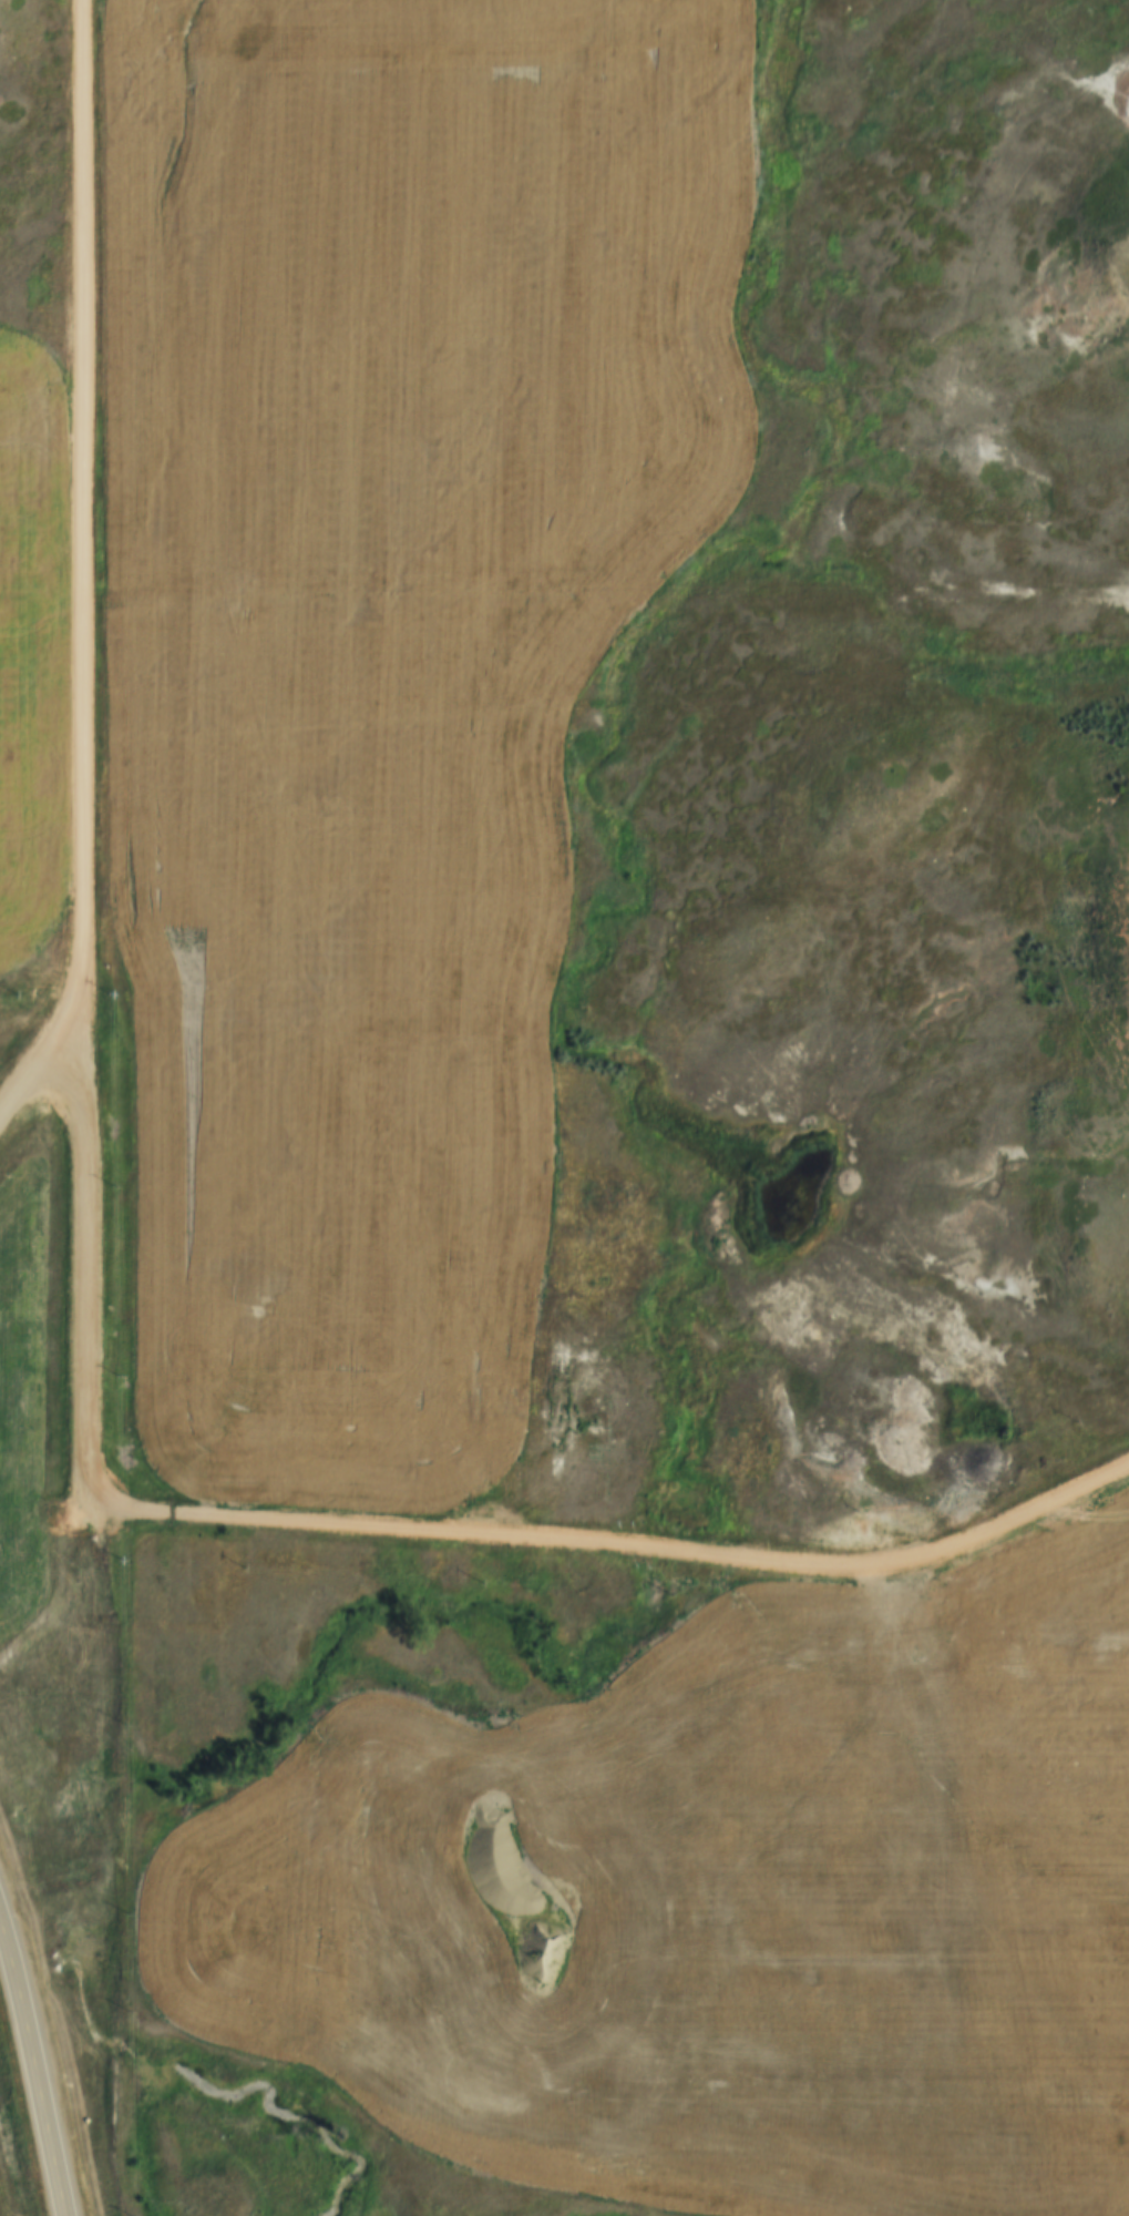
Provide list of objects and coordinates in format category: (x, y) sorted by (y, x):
road: (82, 570)
road: (378, 1530)
road: (30, 2080)

